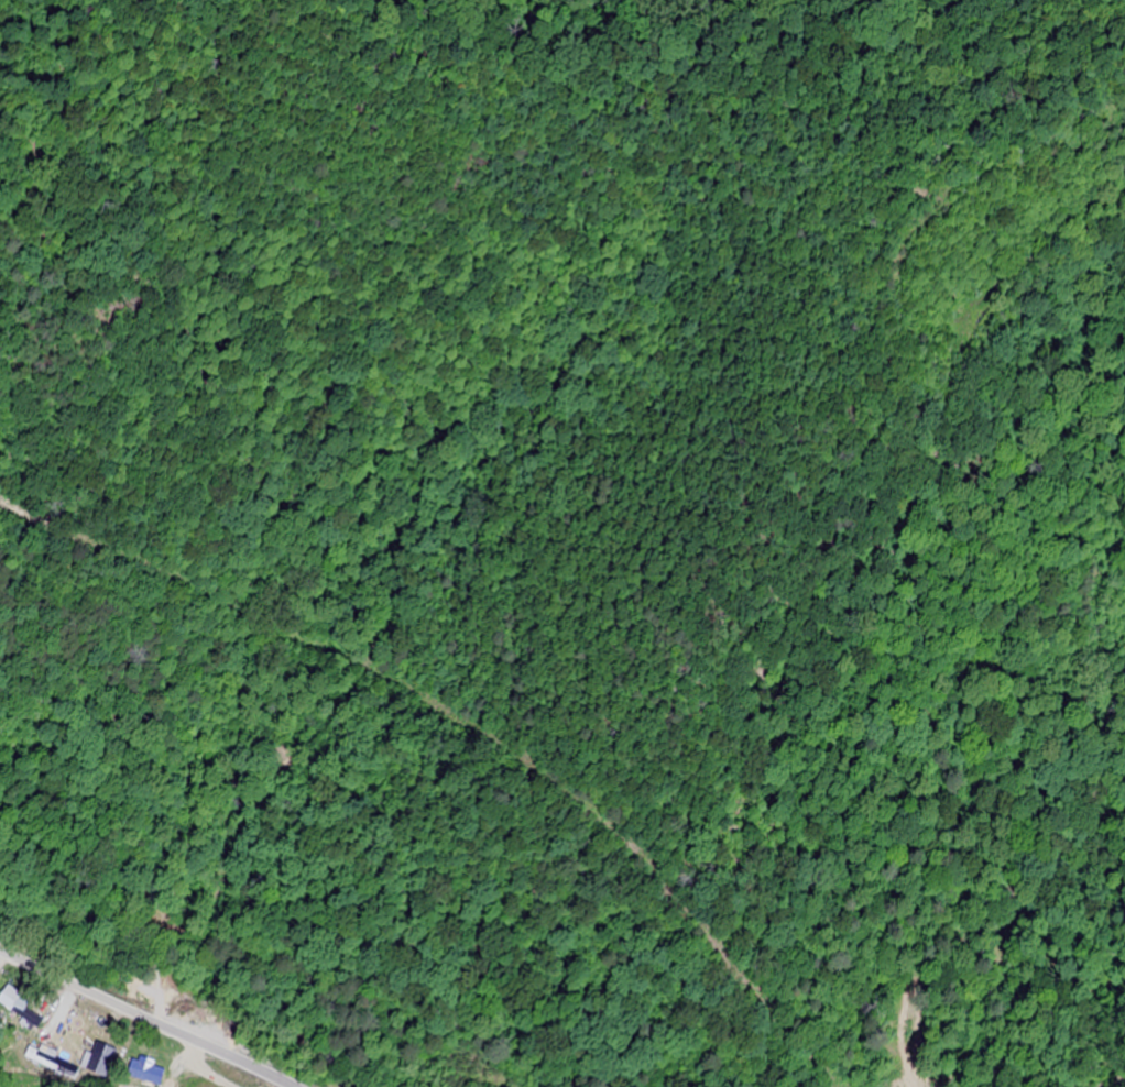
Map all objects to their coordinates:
building: (20, 1001)
road: (144, 1017)
building: (102, 1055)
building: (53, 1057)
building: (148, 1068)

